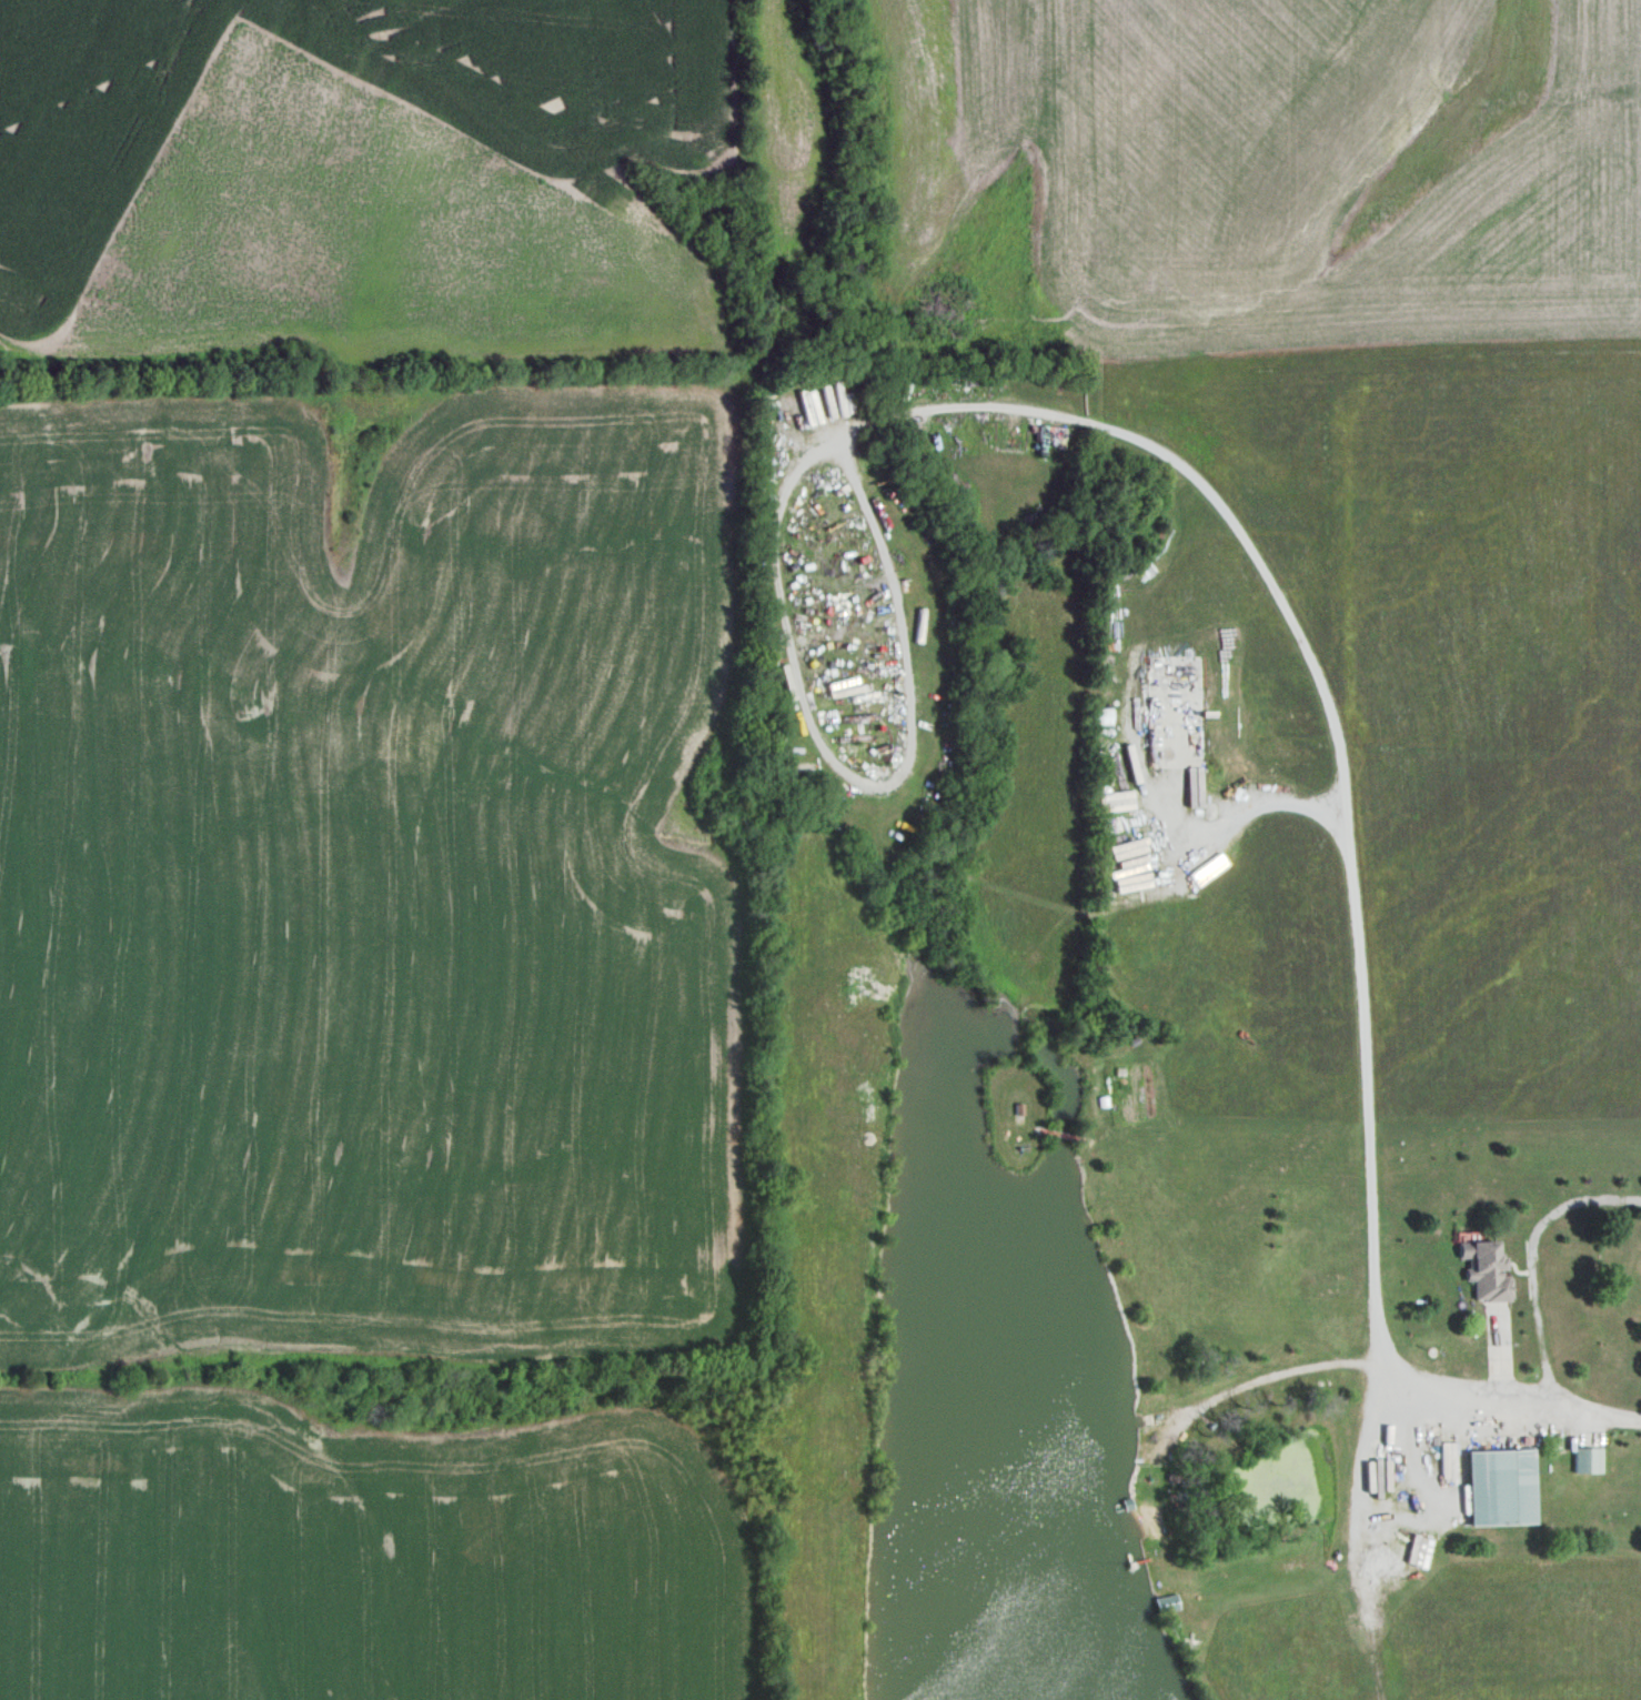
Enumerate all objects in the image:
building: (1483, 1269)
building: (1588, 1459)
building: (1498, 1486)
building: (1166, 1602)

